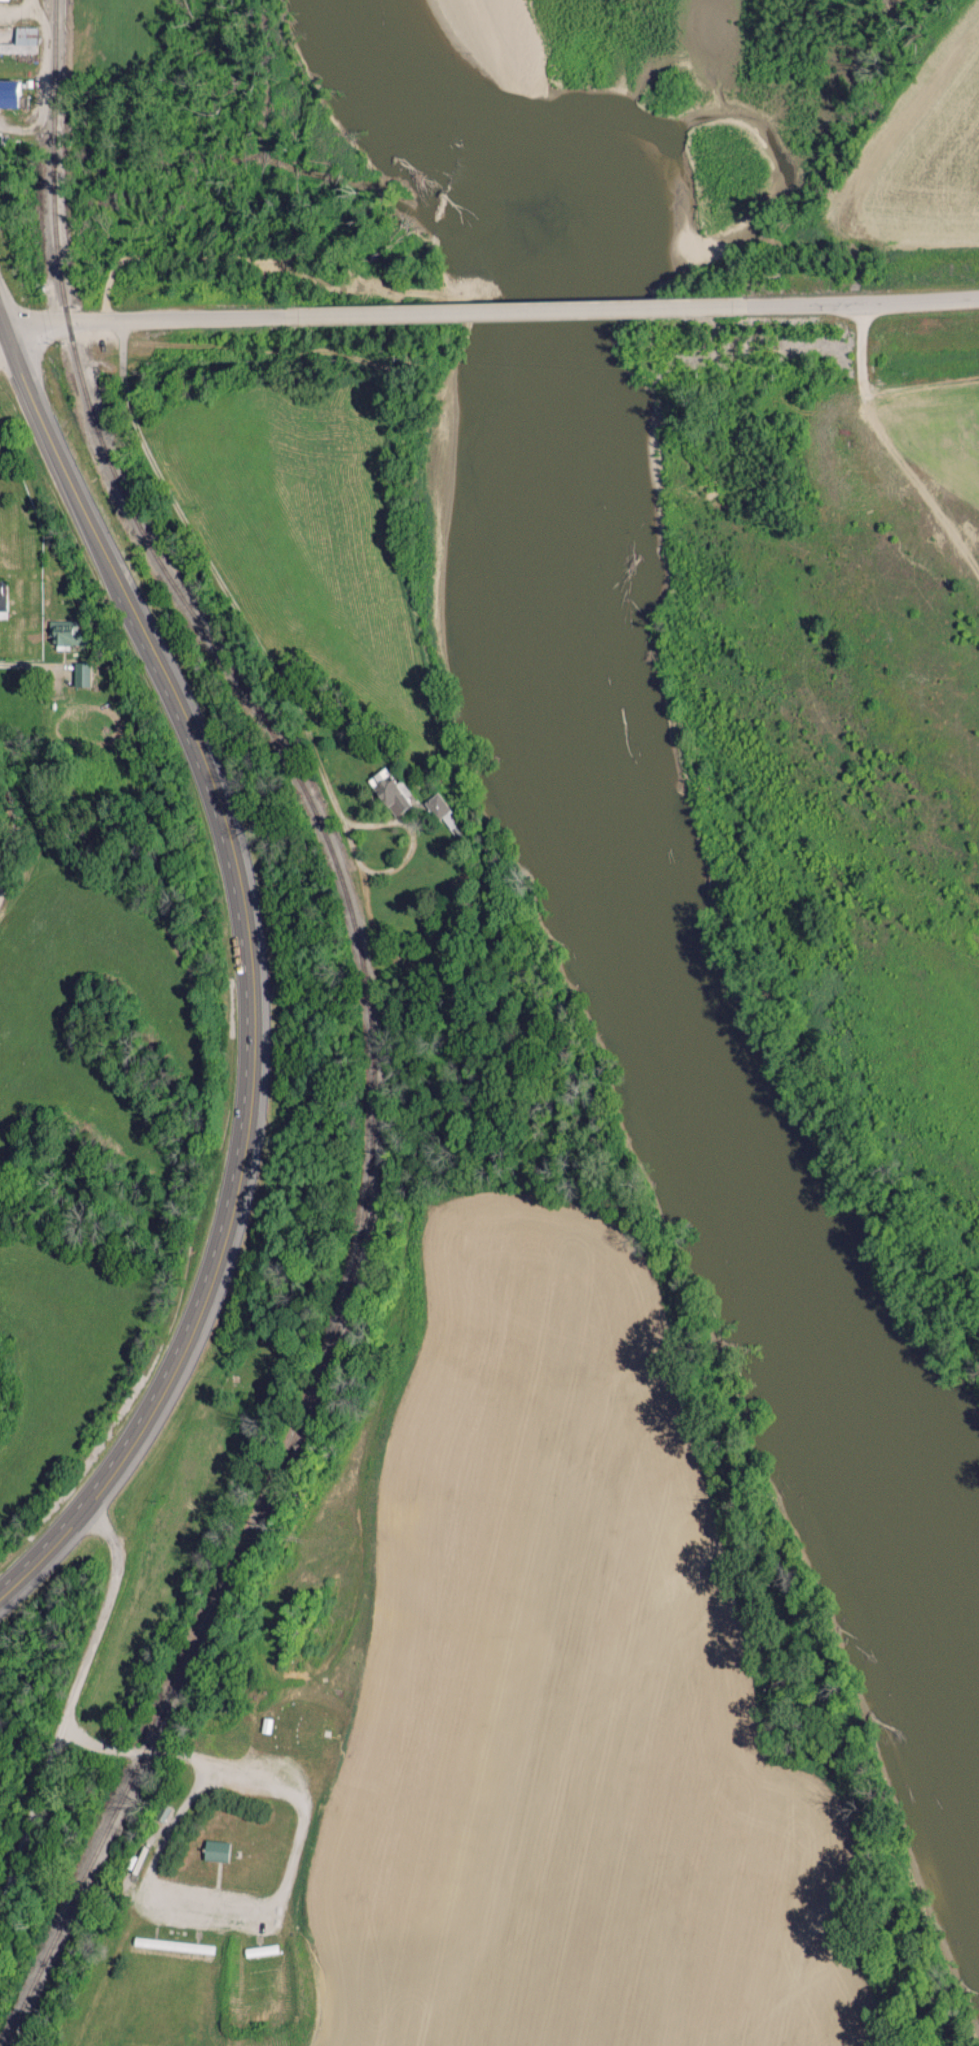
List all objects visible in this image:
building: (20, 41)
road: (861, 302)
road: (512, 310)
road: (140, 323)
road: (4, 355)
road: (894, 446)
building: (2, 596)
building: (64, 633)
road: (151, 650)
building: (79, 673)
building: (388, 792)
building: (437, 805)
road: (19, 823)
river: (596, 863)
railway: (372, 1025)
road: (194, 1317)
park: (239, 1388)
road: (70, 1702)
building: (216, 1851)
building: (134, 1860)
building: (173, 1946)
building: (261, 1951)

